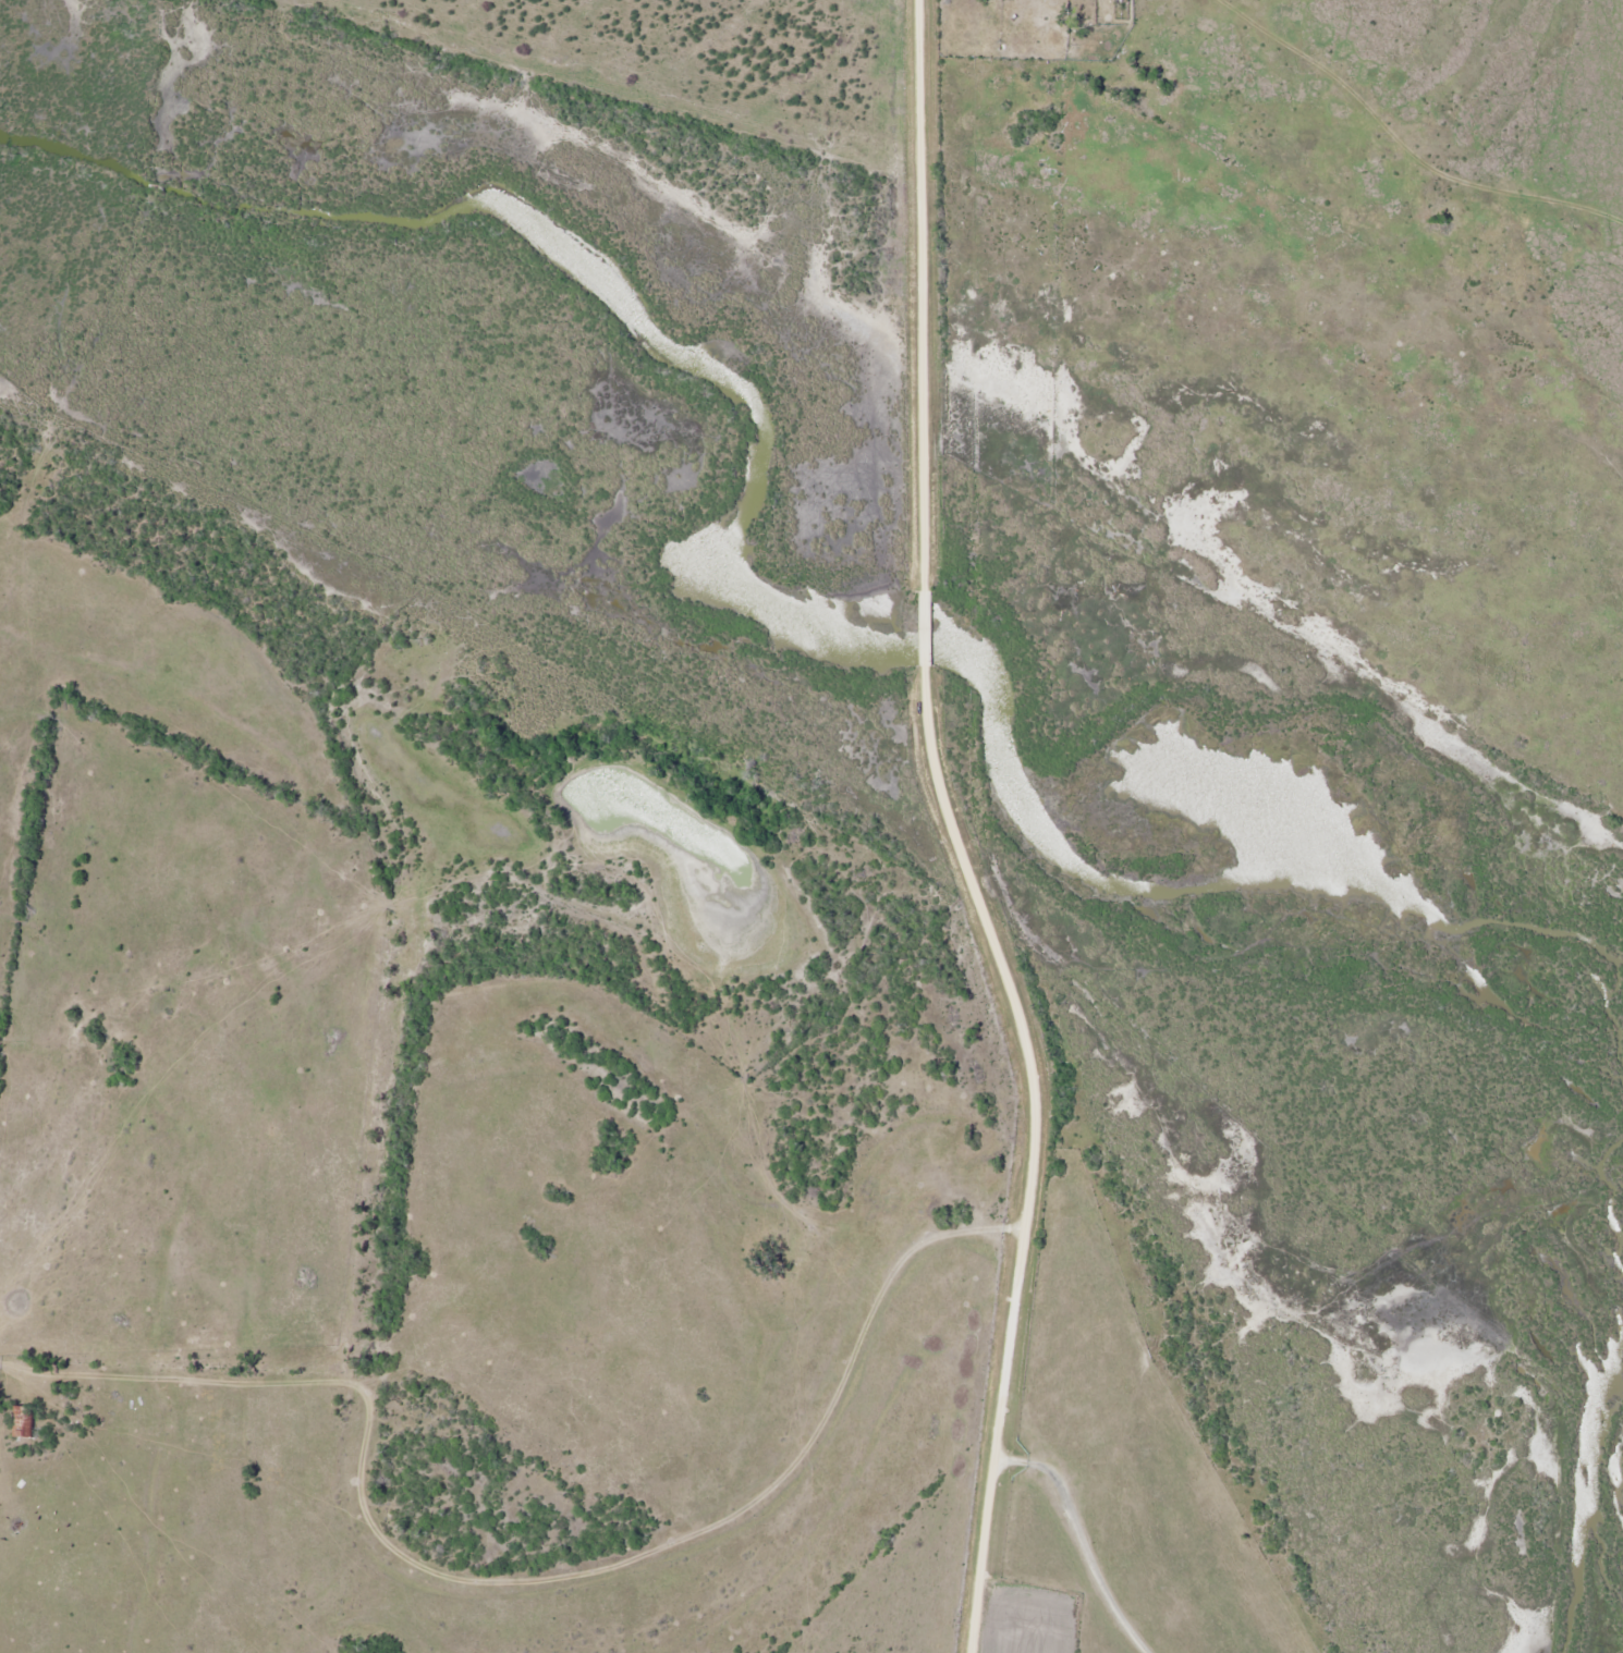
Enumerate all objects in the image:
road: (943, 832)
building: (26, 1422)
road: (1078, 1539)

